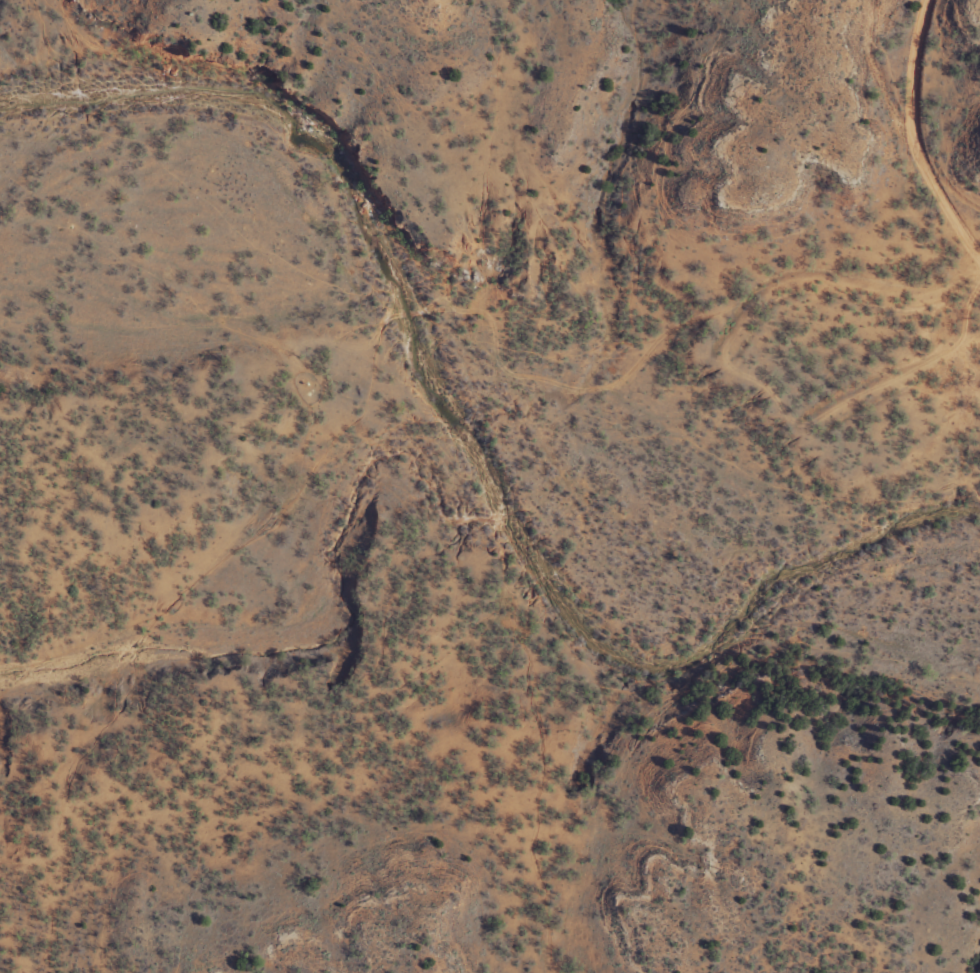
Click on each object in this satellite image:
road: (912, 137)

